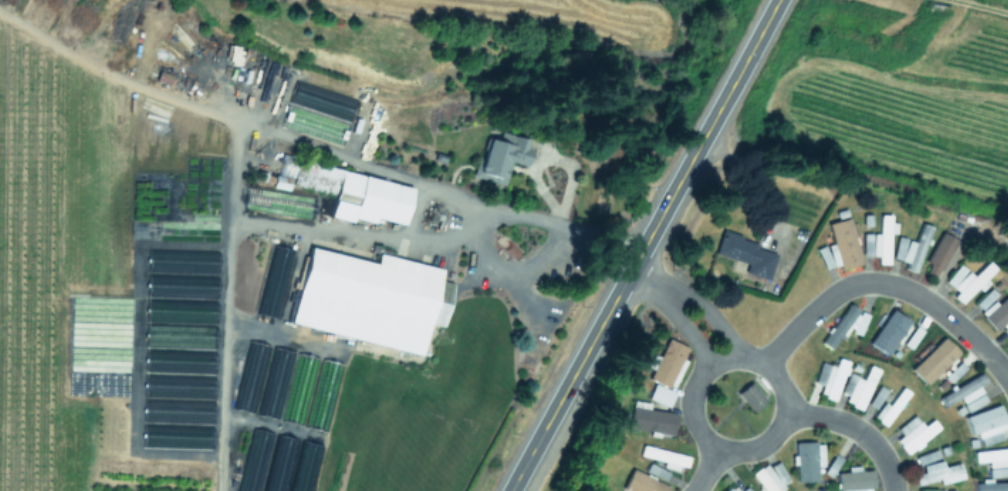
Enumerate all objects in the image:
road: (115, 75)
building: (162, 78)
building: (293, 117)
building: (497, 160)
road: (231, 175)
building: (368, 194)
building: (878, 242)
crop: (504, 245)
road: (645, 245)
building: (839, 248)
building: (910, 250)
building: (746, 255)
road: (648, 282)
building: (967, 283)
road: (888, 285)
building: (364, 300)
building: (992, 309)
road: (710, 314)
building: (843, 325)
building: (884, 328)
road: (687, 330)
building: (1005, 331)
building: (1006, 346)
building: (915, 347)
road: (738, 358)
building: (663, 372)
building: (954, 373)
building: (829, 380)
building: (263, 381)
building: (859, 389)
building: (313, 394)
building: (965, 395)
building: (749, 398)
building: (876, 398)
building: (891, 407)
building: (648, 421)
building: (985, 426)
road: (856, 431)
building: (913, 435)
building: (662, 458)
building: (927, 459)
building: (255, 461)
building: (994, 463)
building: (804, 464)
building: (832, 464)
building: (284, 465)
building: (305, 467)
road: (708, 470)
building: (938, 475)
building: (768, 479)
building: (853, 481)
building: (640, 484)
building: (991, 487)
building: (728, 490)
building: (740, 490)

